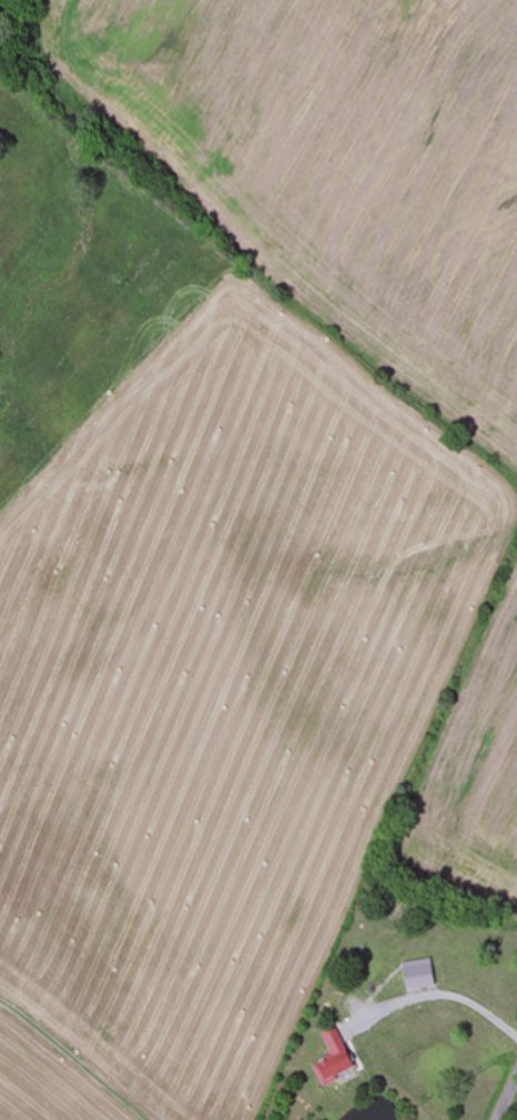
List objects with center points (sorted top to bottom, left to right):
building: (379, 979)
road: (70, 1061)
building: (328, 1067)
road: (505, 1097)

